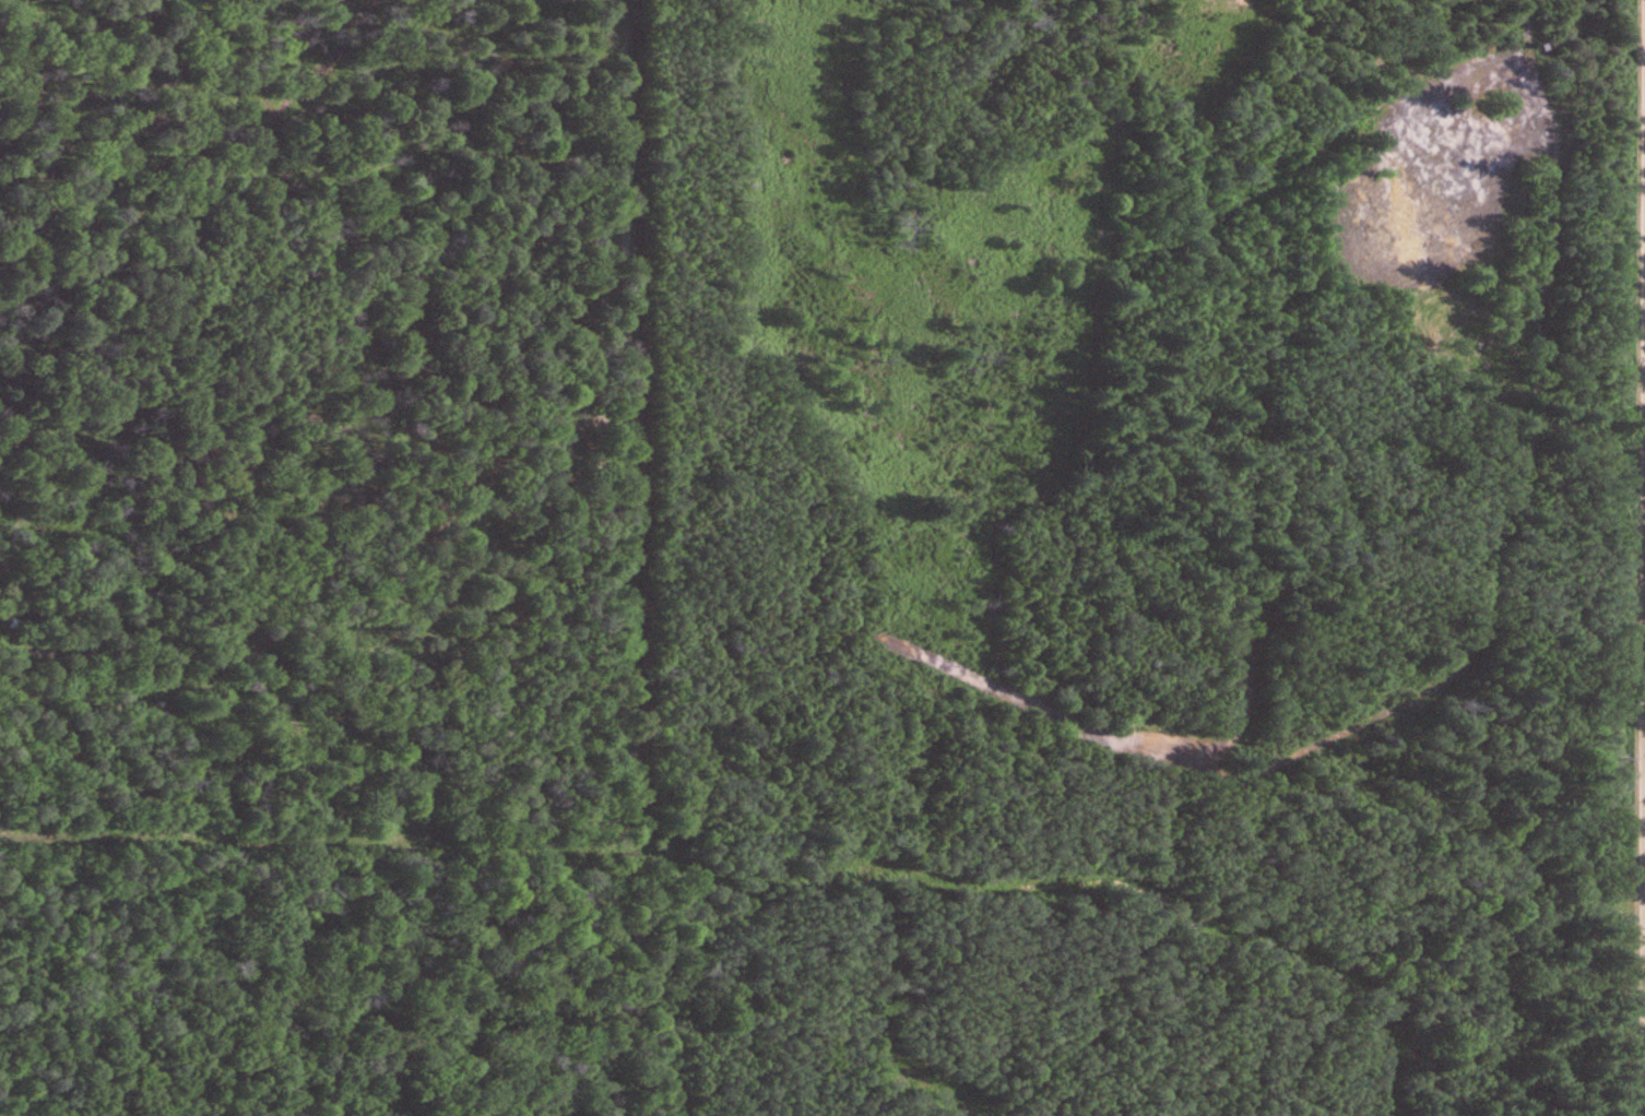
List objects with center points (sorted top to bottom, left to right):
road: (1643, 711)

